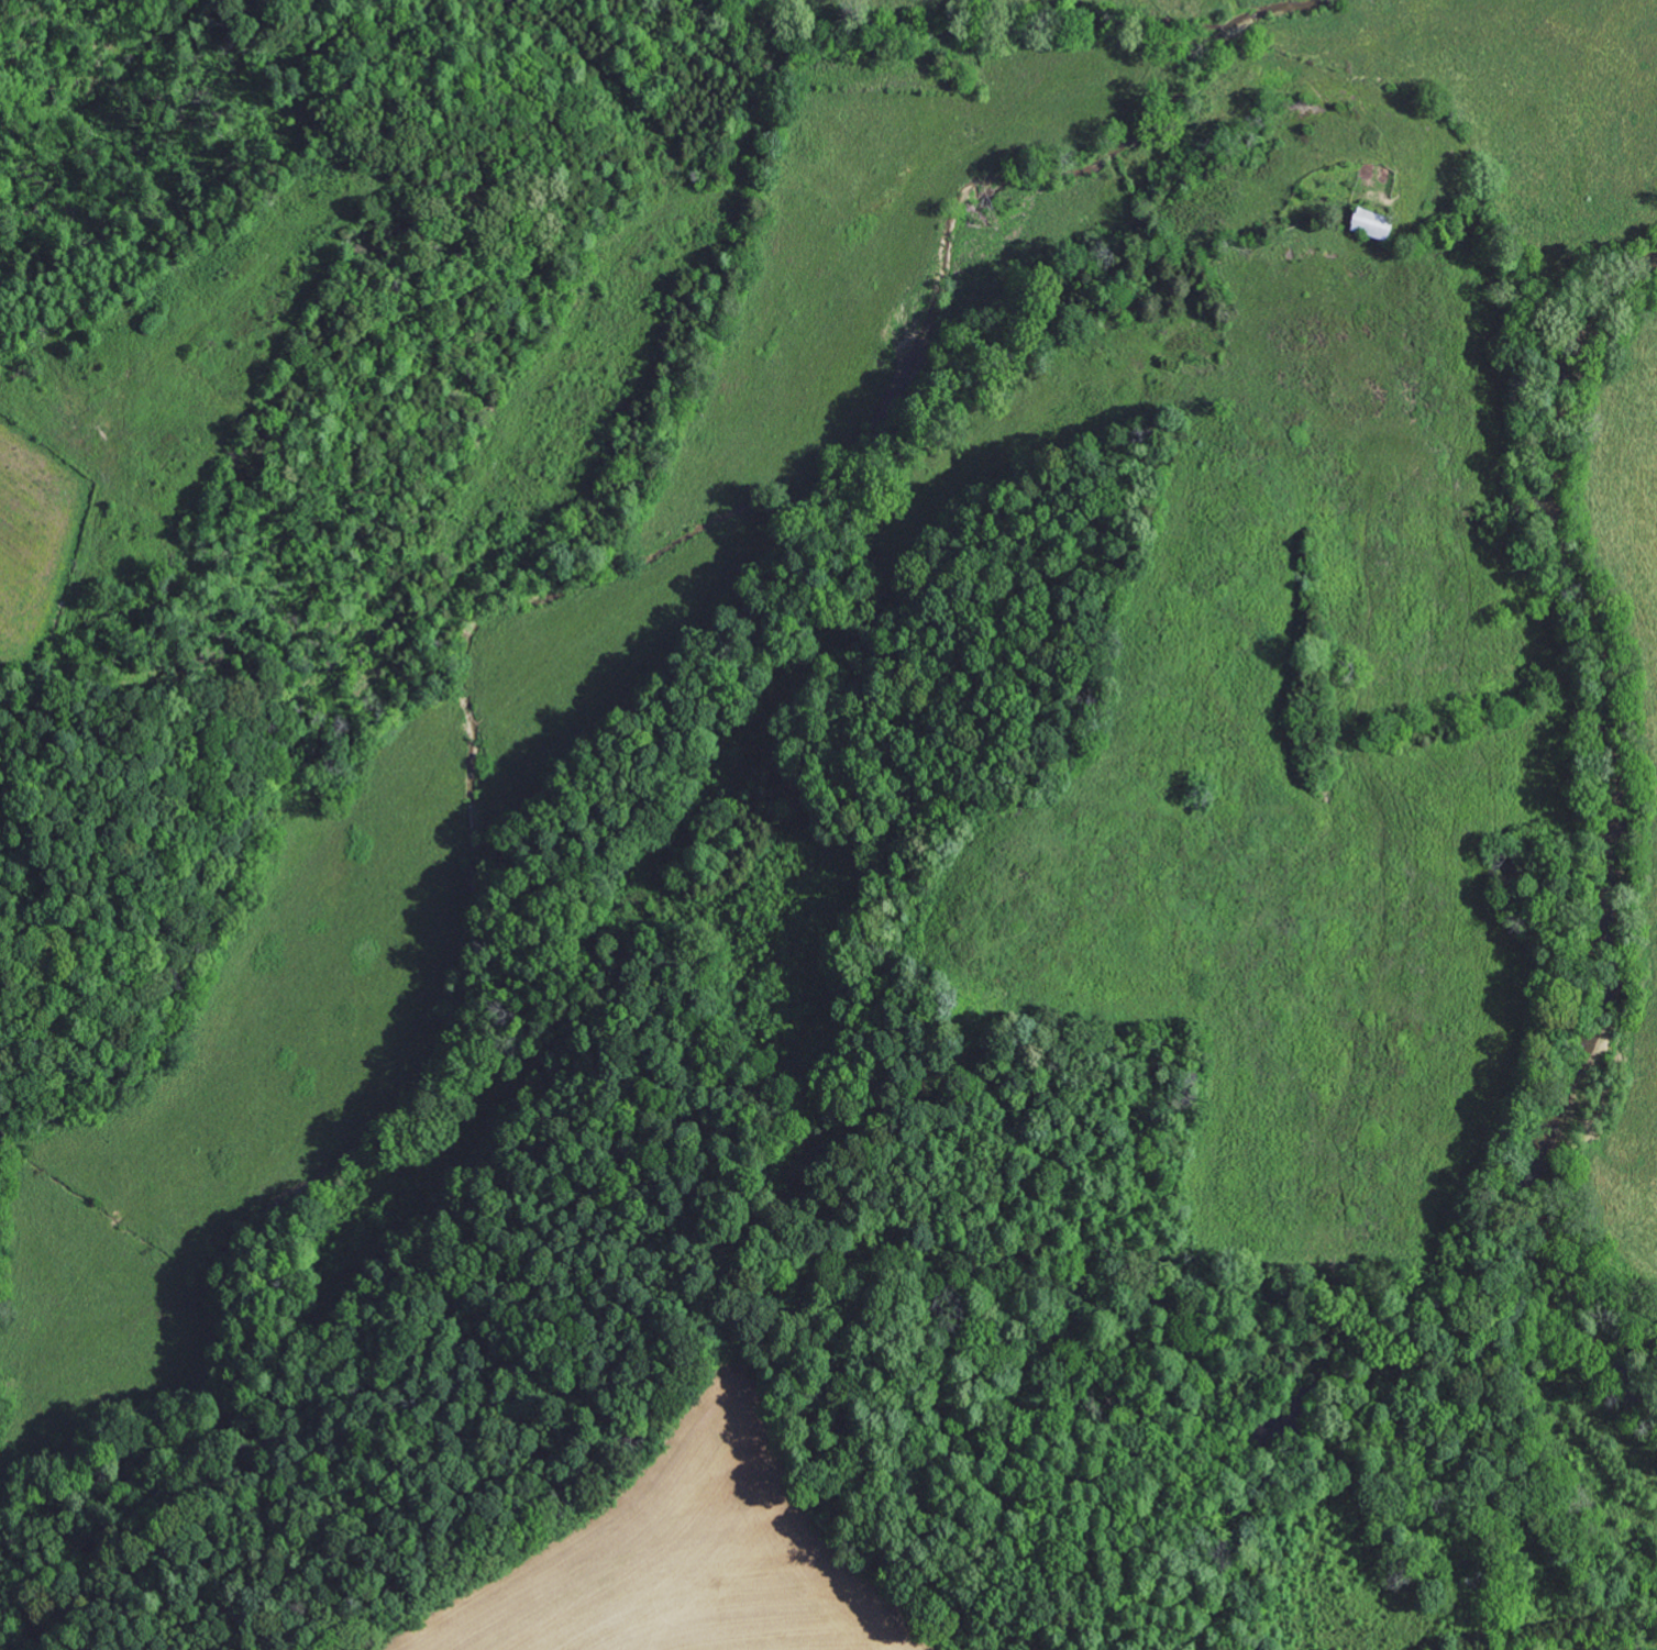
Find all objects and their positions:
building: (1368, 222)
road: (1605, 1647)

